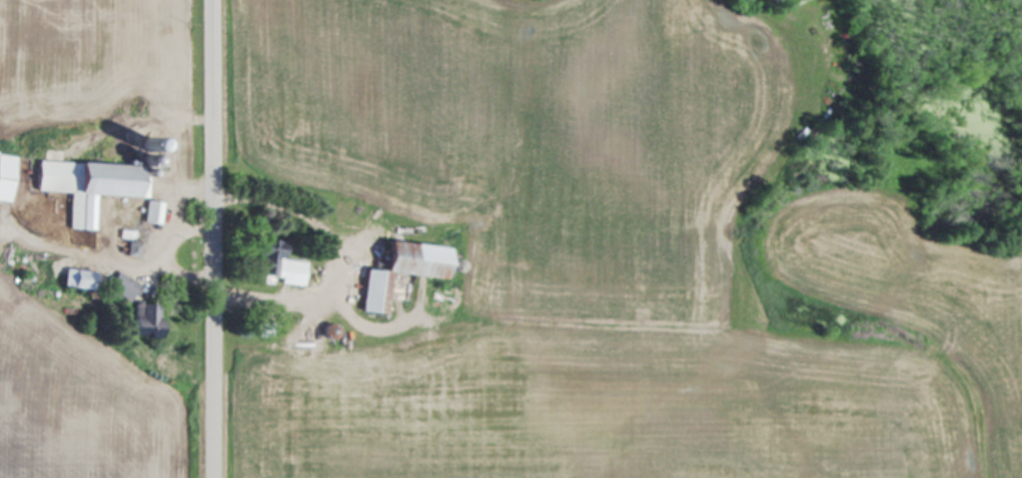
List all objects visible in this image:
building: (5, 177)
building: (87, 187)
building: (150, 214)
road: (213, 238)
road: (333, 257)
building: (272, 265)
building: (396, 272)
building: (74, 281)
building: (118, 286)
building: (260, 331)

